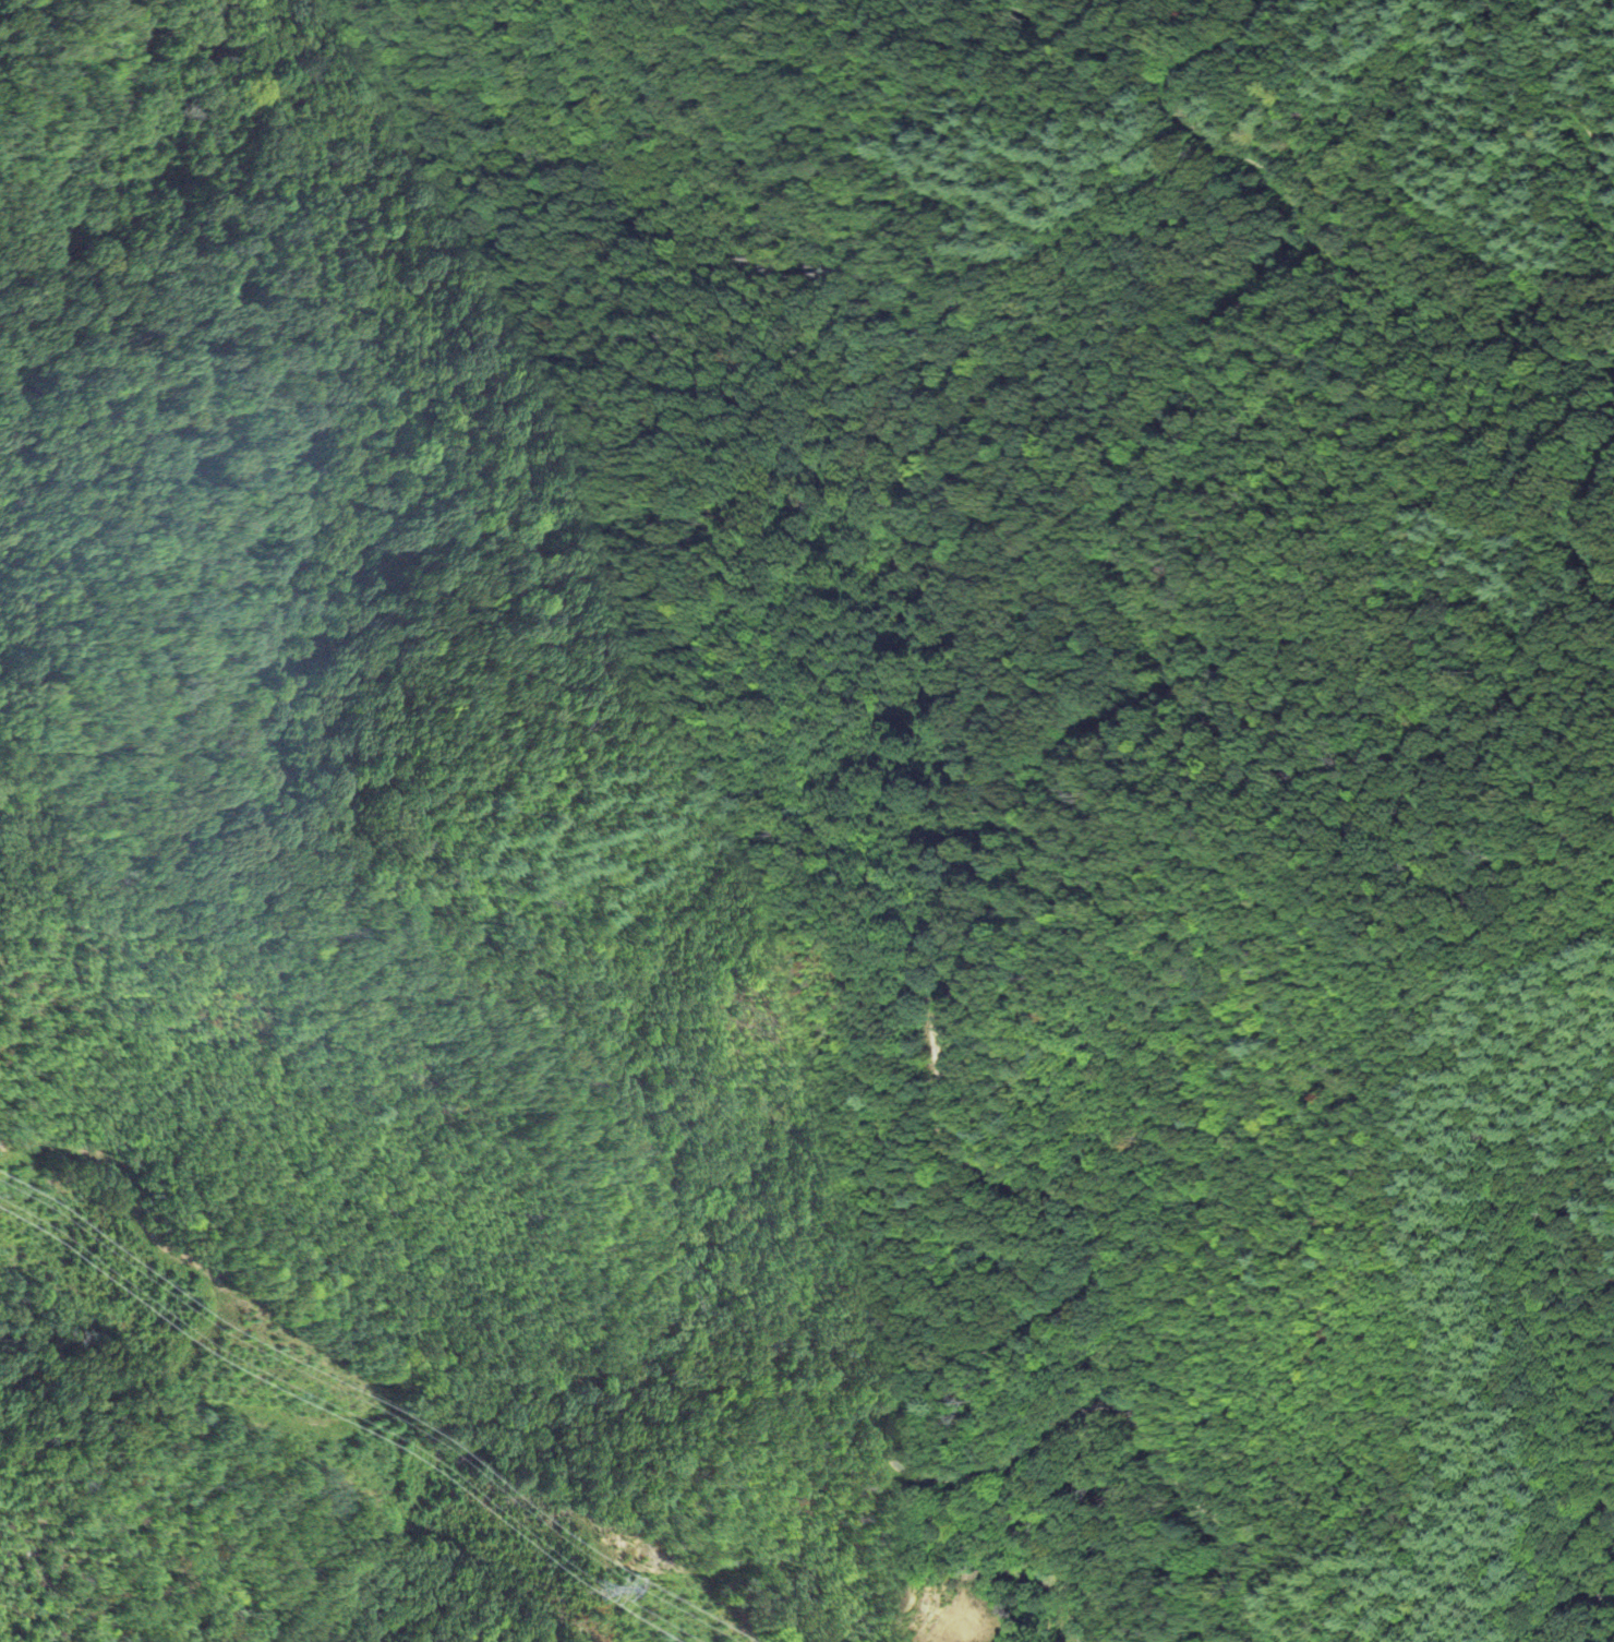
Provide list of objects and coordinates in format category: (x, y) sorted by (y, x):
power tower: (582, 1586)

